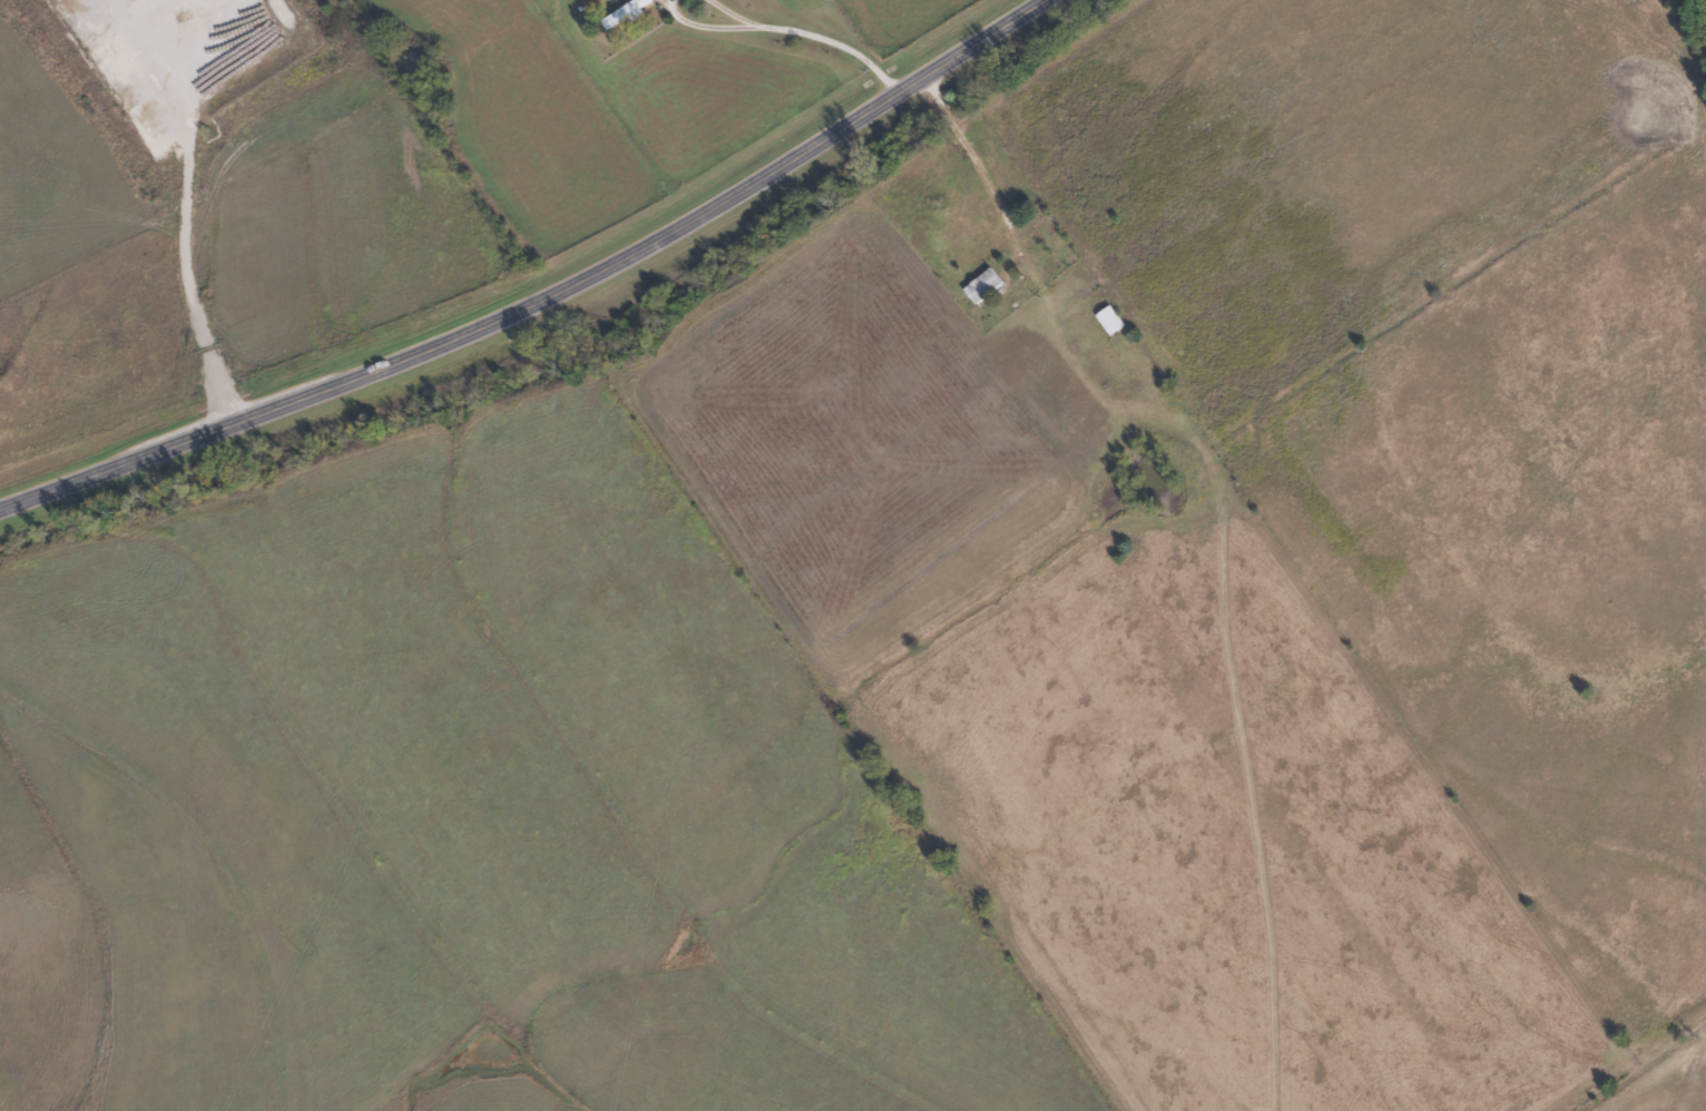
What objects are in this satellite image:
building: (628, 12)
road: (732, 12)
road: (704, 24)
road: (834, 42)
road: (178, 242)
building: (987, 286)
road: (546, 301)
building: (1114, 321)

